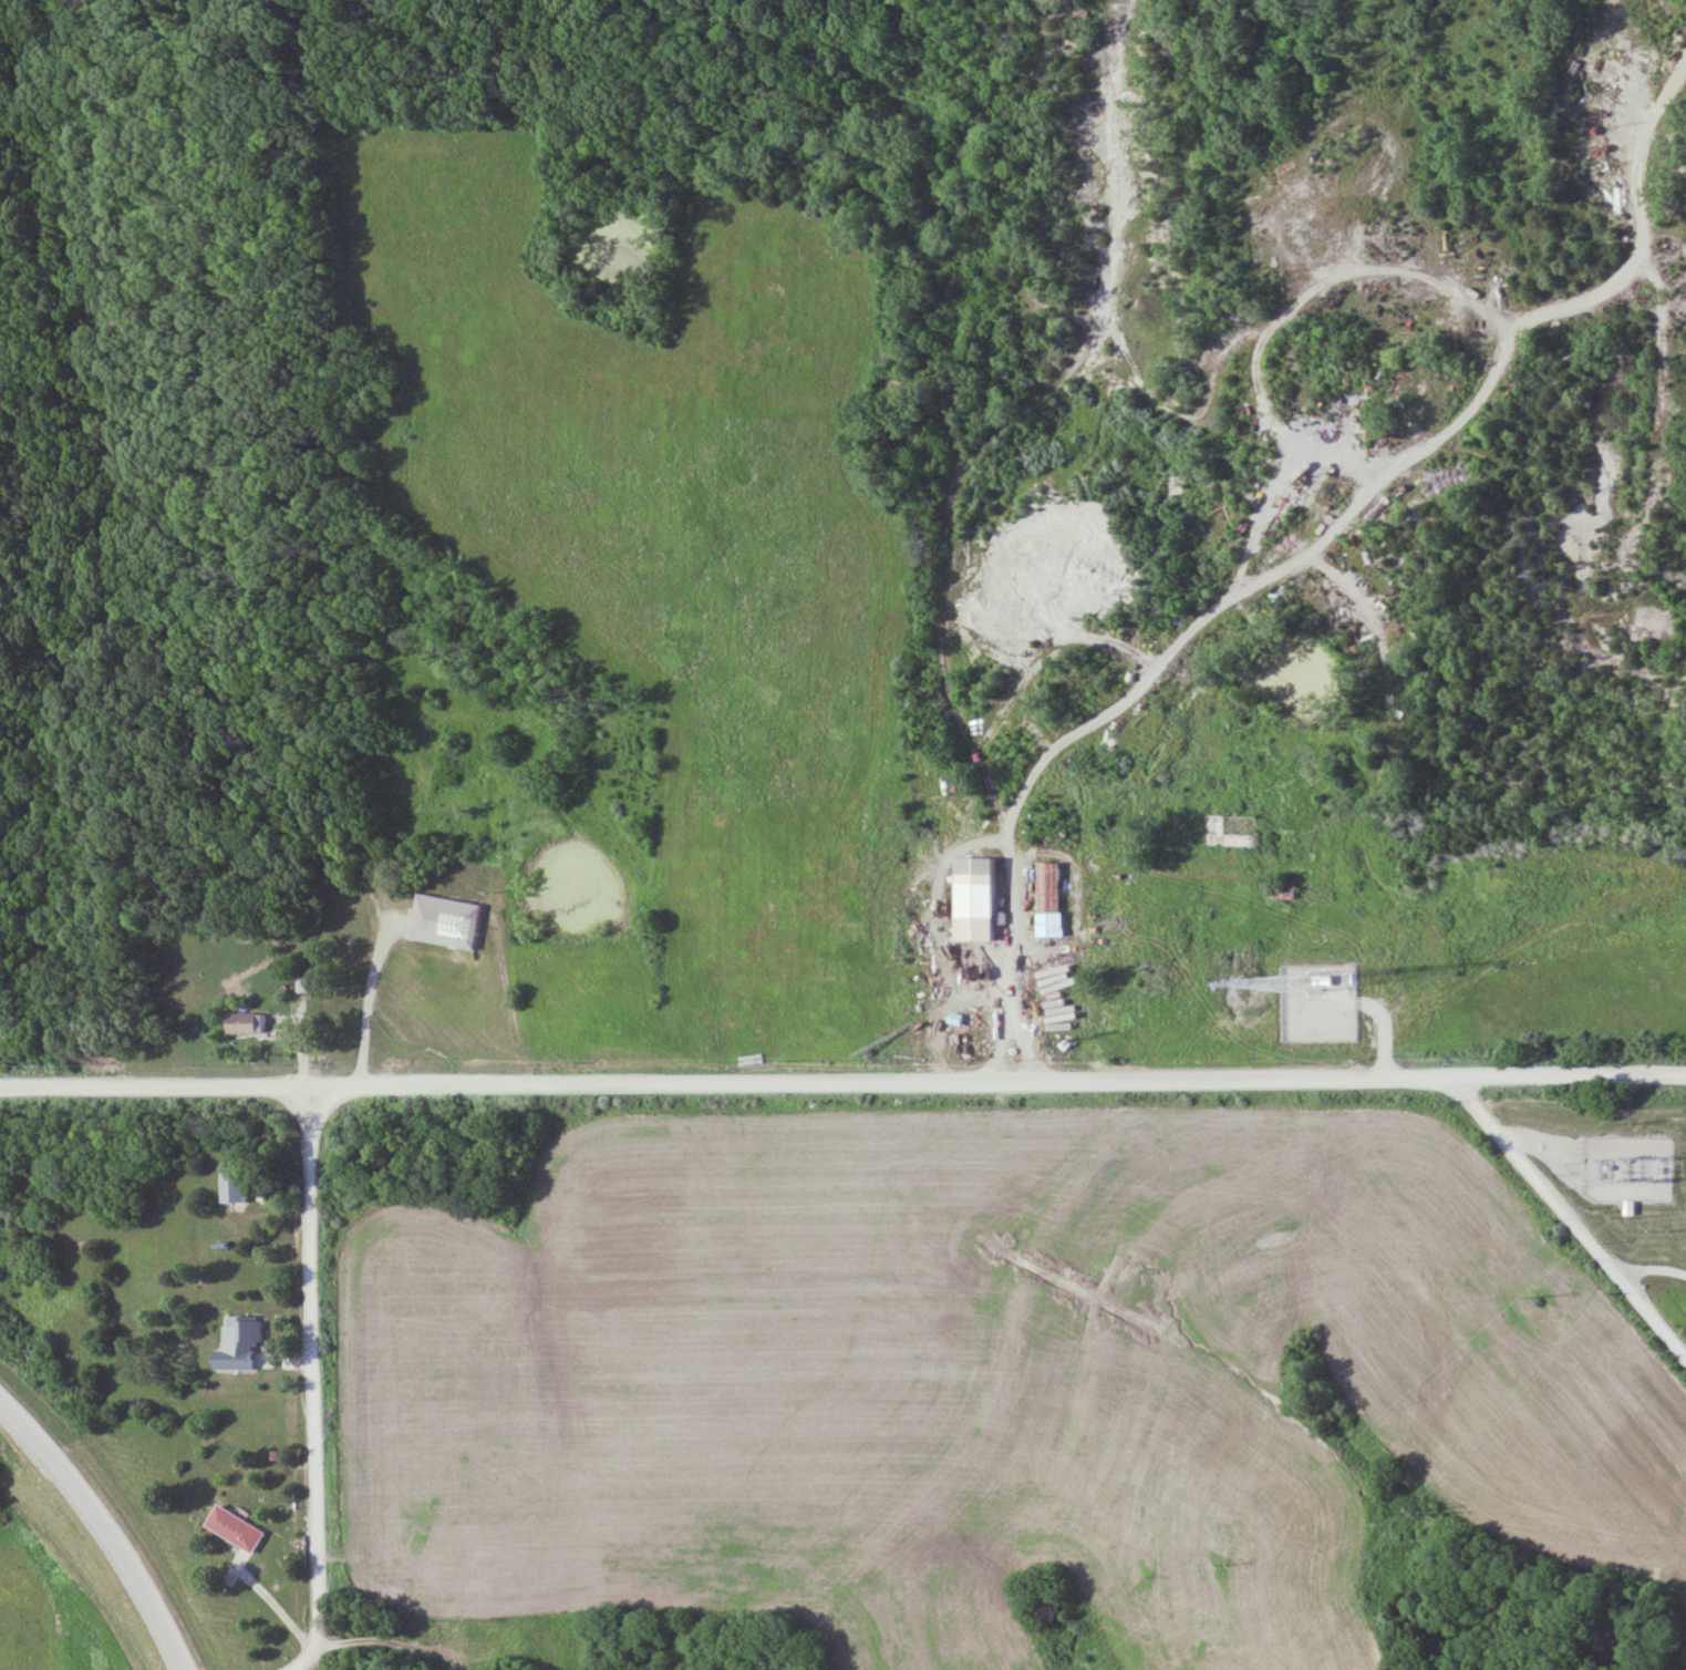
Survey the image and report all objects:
park: (320, 431)
road: (1390, 474)
road: (948, 516)
building: (1230, 832)
building: (980, 900)
building: (1051, 900)
building: (449, 922)
road: (1511, 952)
road: (365, 1004)
building: (246, 1024)
road: (842, 1084)
power substation: (1623, 1168)
building: (235, 1187)
building: (1628, 1207)
road: (1569, 1220)
road: (1653, 1274)
power tower: (1534, 1301)
building: (240, 1342)
road: (313, 1381)
power tower: (1417, 1501)
road: (106, 1528)
building: (237, 1528)

